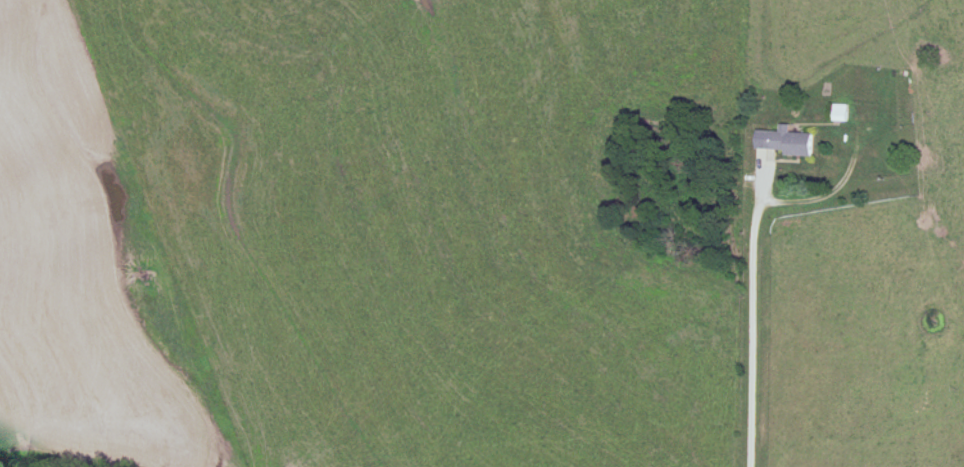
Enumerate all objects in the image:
building: (840, 113)
building: (790, 142)
road: (750, 322)

